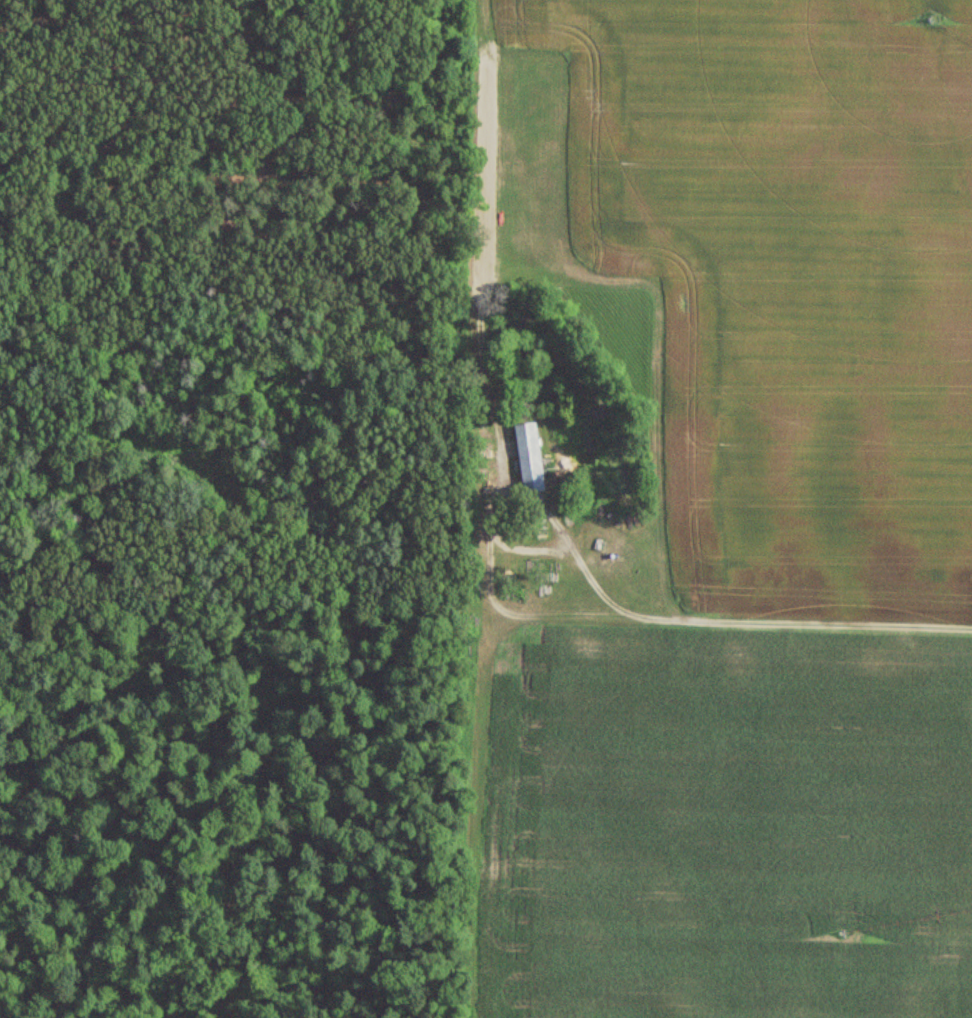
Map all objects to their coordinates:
road: (473, 12)
building: (532, 459)
road: (726, 619)

